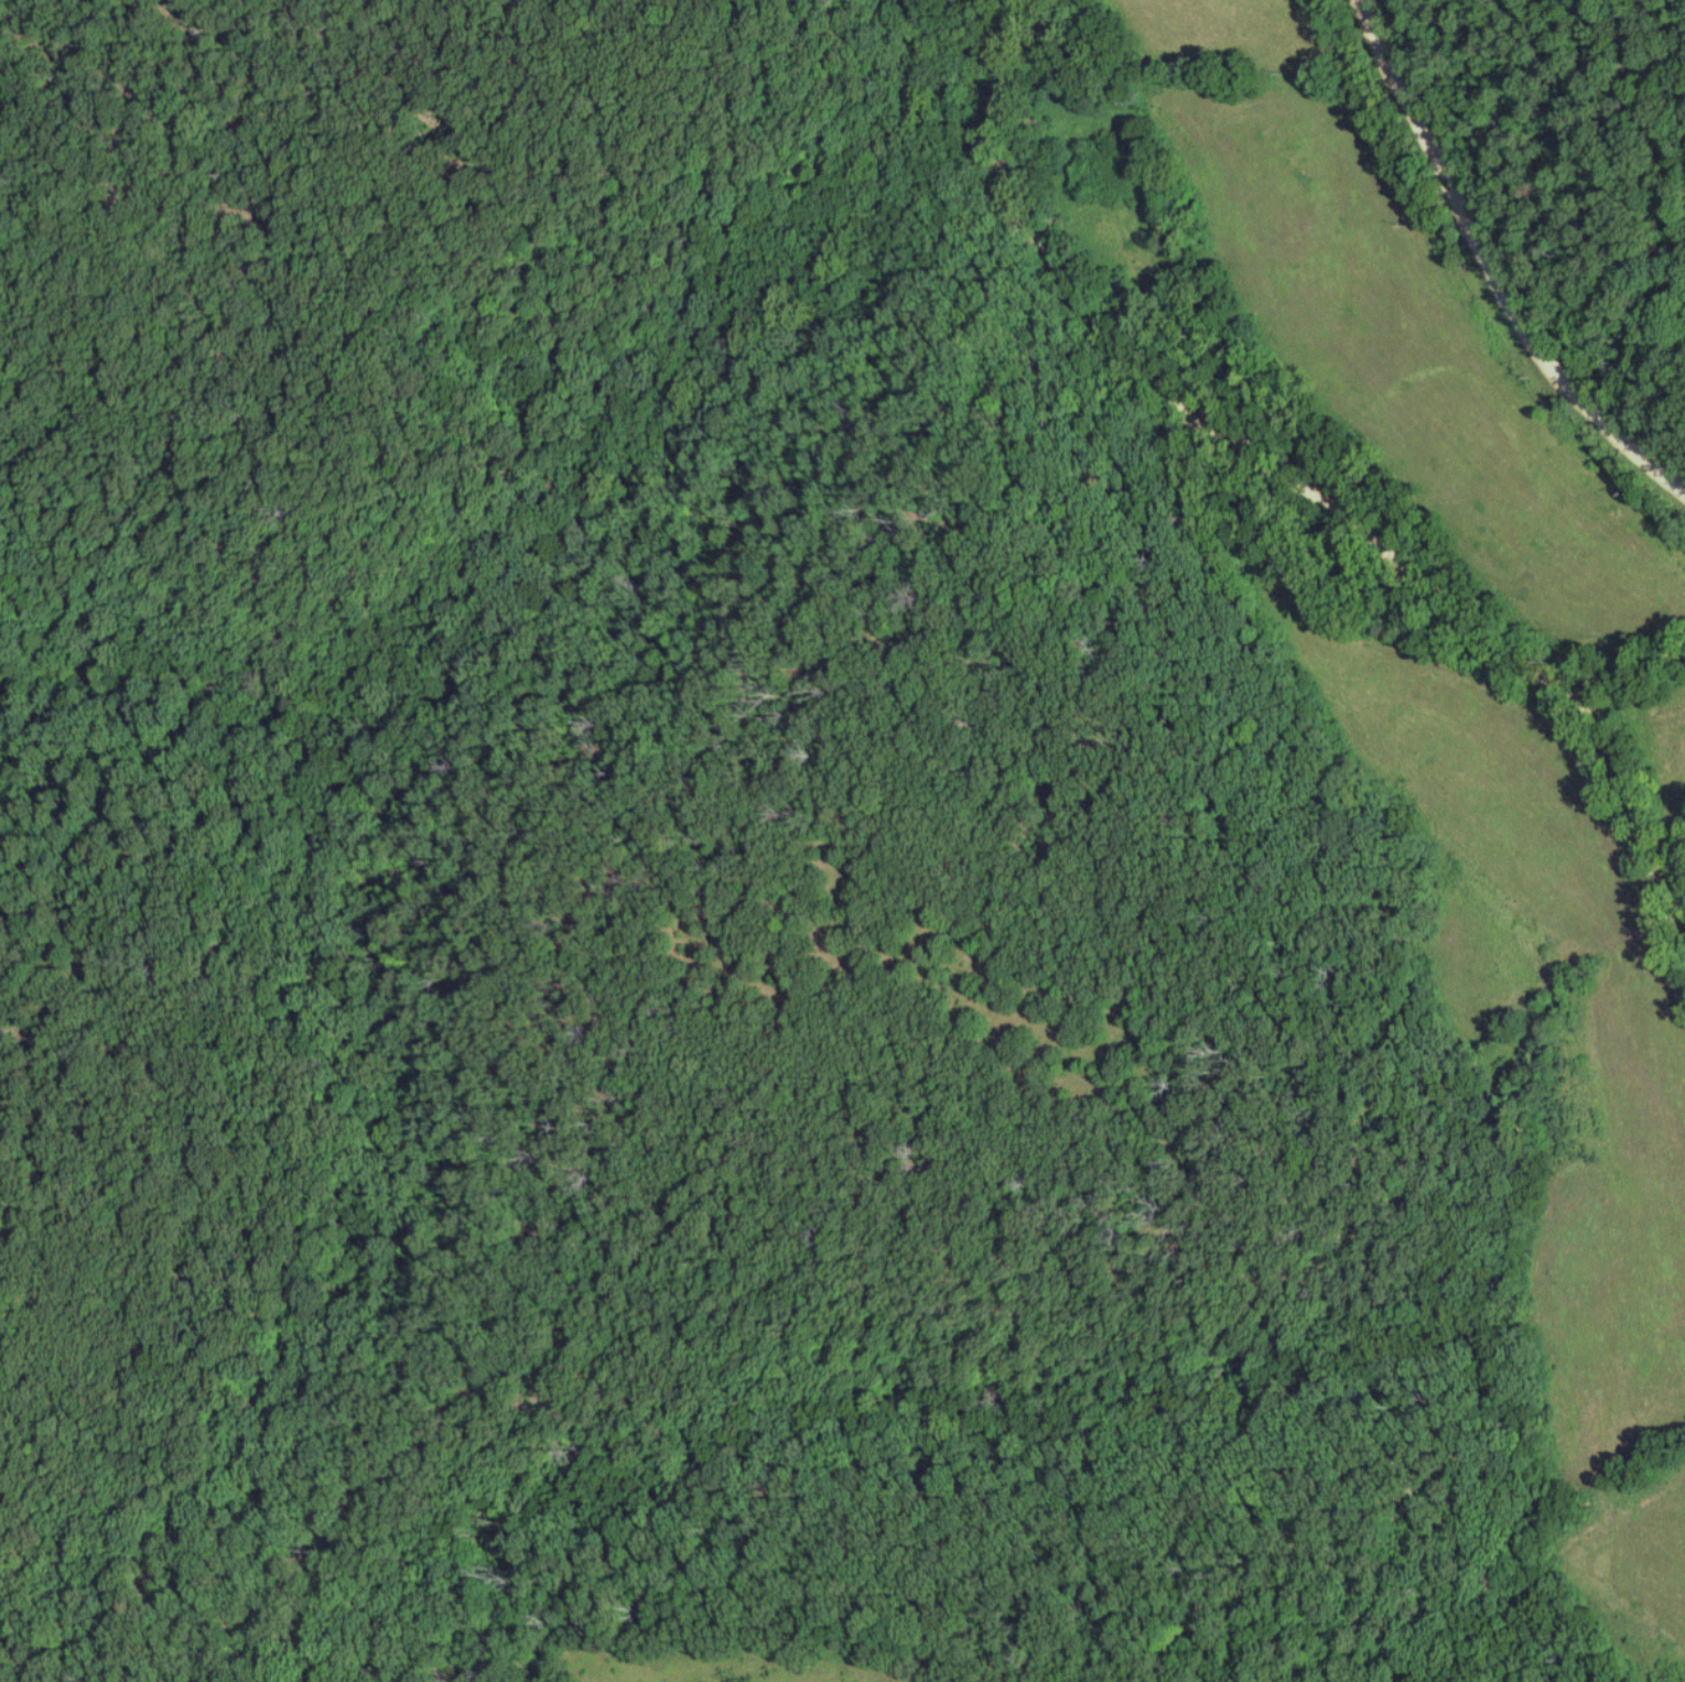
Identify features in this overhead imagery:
road: (1492, 265)

